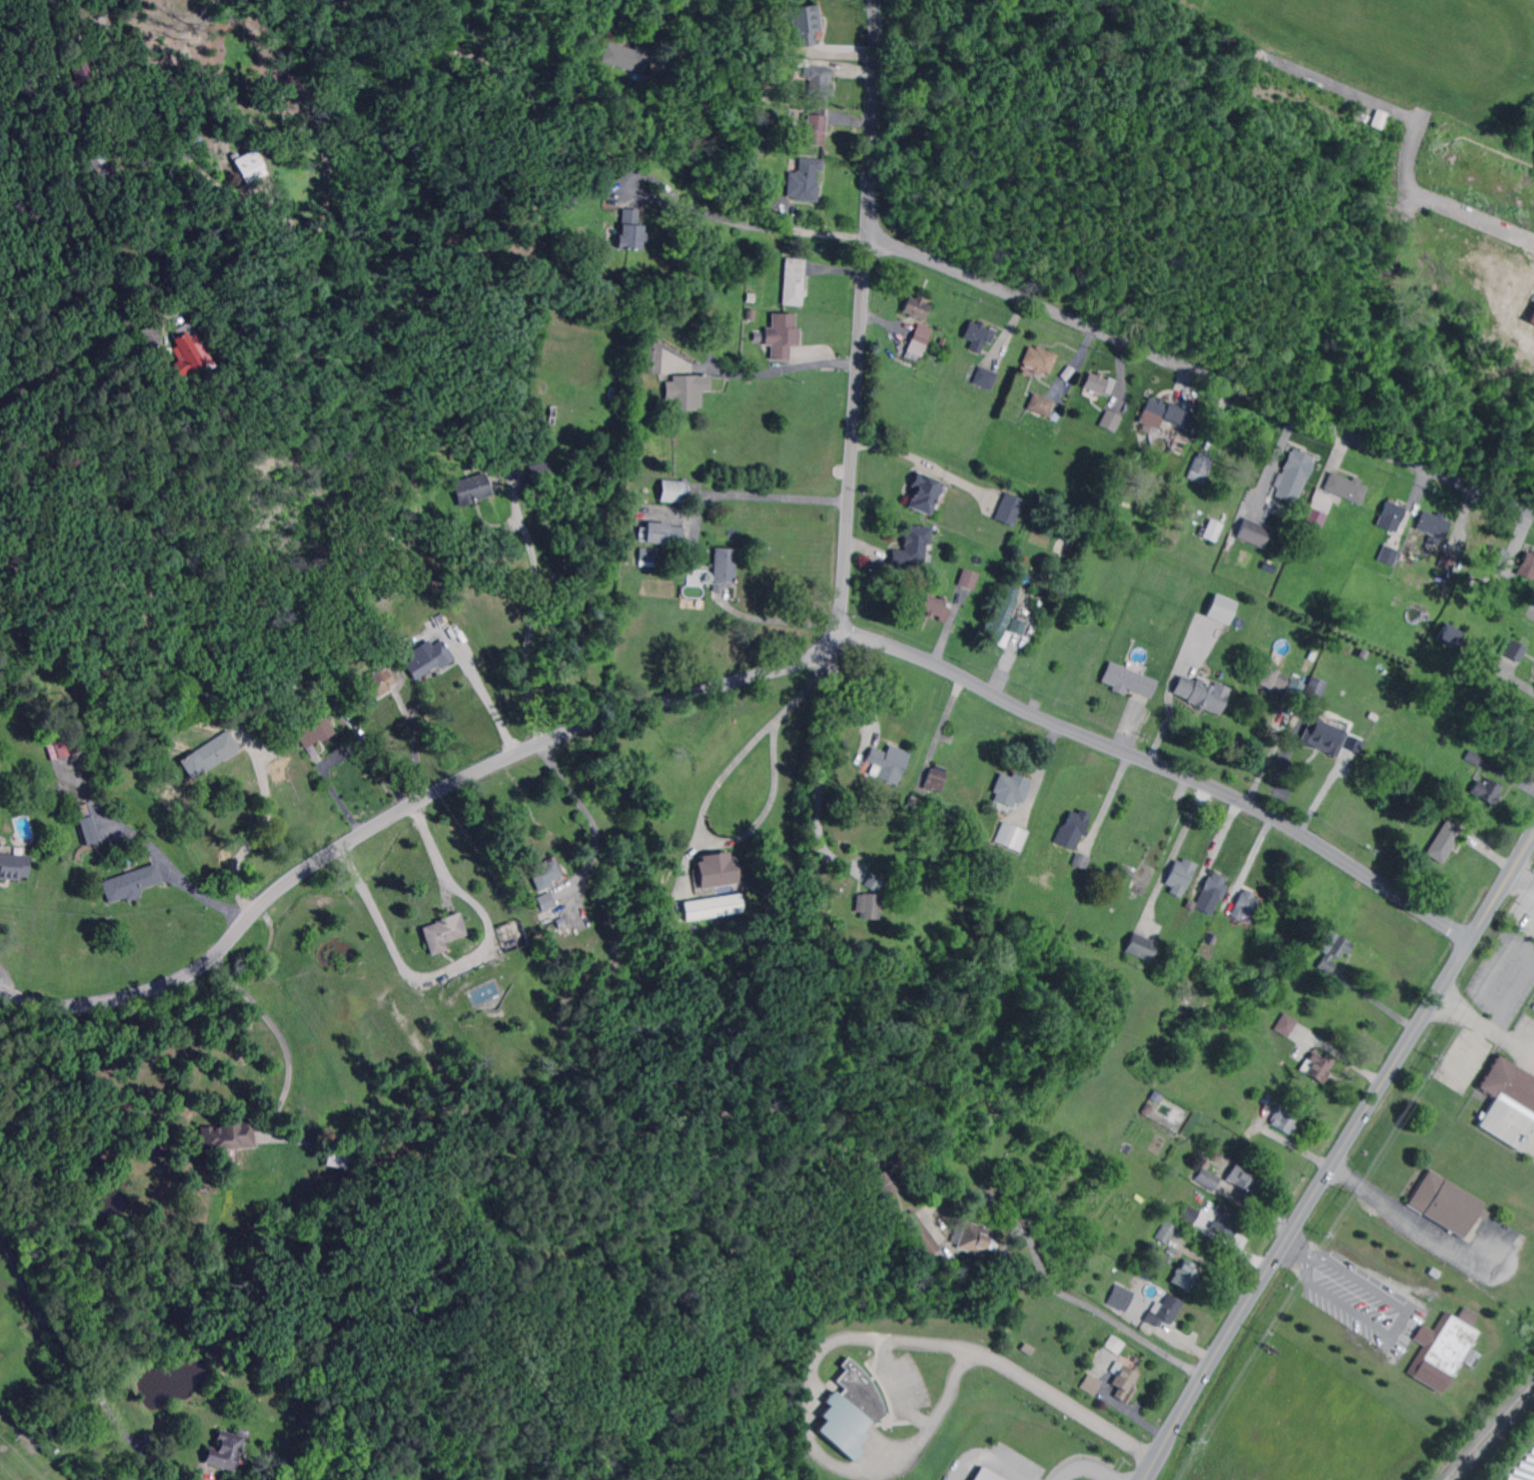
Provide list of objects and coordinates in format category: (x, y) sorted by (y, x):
building: (806, 25)
road: (686, 32)
building: (630, 57)
building: (77, 68)
building: (820, 82)
road: (1377, 103)
building: (226, 112)
building: (1377, 118)
building: (814, 125)
building: (223, 132)
building: (778, 154)
building: (765, 155)
building: (98, 167)
building: (252, 167)
building: (804, 179)
road: (221, 186)
building: (566, 199)
building: (764, 201)
road: (711, 214)
building: (562, 217)
road: (1475, 218)
building: (632, 230)
building: (795, 281)
building: (917, 307)
road: (863, 314)
building: (1531, 316)
building: (149, 335)
building: (782, 336)
building: (978, 336)
building: (921, 339)
building: (186, 353)
building: (651, 358)
building: (1041, 359)
road: (784, 368)
road: (1201, 373)
building: (985, 378)
building: (1098, 385)
building: (686, 392)
building: (1042, 405)
building: (1163, 415)
building: (1110, 422)
building: (540, 469)
building: (1200, 469)
building: (1126, 470)
building: (1293, 476)
building: (1346, 487)
building: (472, 489)
building: (674, 492)
building: (924, 494)
road: (768, 495)
building: (1183, 502)
building: (1009, 510)
building: (1314, 516)
building: (1391, 516)
building: (1434, 524)
building: (1212, 531)
building: (1251, 533)
building: (660, 534)
building: (912, 548)
building: (1387, 556)
building: (648, 557)
building: (1495, 559)
building: (1449, 561)
building: (1527, 566)
building: (724, 568)
building: (969, 578)
building: (355, 592)
building: (937, 607)
building: (1220, 609)
road: (529, 617)
building: (1001, 619)
road: (785, 620)
building: (199, 626)
building: (1018, 627)
building: (1384, 631)
building: (1452, 635)
building: (1517, 651)
building: (333, 658)
building: (429, 660)
building: (1127, 680)
building: (1271, 680)
building: (375, 685)
building: (3, 687)
road: (868, 687)
building: (1293, 688)
building: (1315, 689)
building: (1202, 695)
road: (485, 697)
road: (938, 726)
building: (312, 732)
building: (1323, 736)
building: (1352, 743)
road: (415, 745)
building: (61, 748)
road: (1272, 750)
road: (343, 751)
building: (208, 755)
building: (1474, 758)
road: (824, 761)
building: (889, 763)
road: (1165, 766)
road: (1038, 771)
building: (936, 779)
building: (1429, 779)
building: (1405, 784)
building: (1011, 789)
building: (1490, 792)
road: (1107, 797)
building: (915, 803)
road: (706, 805)
building: (81, 808)
road: (408, 809)
road: (585, 811)
building: (1078, 823)
building: (89, 830)
building: (1013, 837)
road: (251, 840)
building: (1445, 841)
road: (153, 848)
road: (1170, 852)
building: (1082, 861)
building: (13, 866)
building: (718, 871)
building: (546, 875)
building: (1180, 877)
building: (876, 882)
building: (132, 883)
building: (1215, 888)
building: (544, 902)
building: (1248, 903)
building: (1191, 904)
building: (867, 905)
building: (713, 908)
building: (550, 916)
building: (1222, 918)
building: (864, 921)
building: (561, 923)
building: (445, 932)
building: (1139, 947)
building: (1334, 950)
road: (460, 960)
building: (1235, 972)
road: (9, 977)
building: (1280, 1011)
road: (269, 1021)
building: (1287, 1025)
road: (1486, 1025)
road: (16, 1028)
building: (879, 1065)
building: (1317, 1066)
building: (1154, 1097)
building: (1508, 1102)
building: (1145, 1109)
building: (1284, 1119)
building: (227, 1137)
building: (1125, 1146)
building: (153, 1152)
building: (340, 1158)
road: (1335, 1158)
building: (1245, 1178)
building: (1206, 1179)
building: (883, 1184)
building: (1100, 1184)
building: (854, 1188)
building: (1446, 1205)
building: (1190, 1215)
building: (1227, 1221)
road: (1409, 1221)
building: (916, 1234)
building: (1166, 1234)
building: (973, 1240)
road: (1296, 1249)
building: (1434, 1275)
building: (1186, 1276)
building: (1141, 1284)
building: (1119, 1296)
road: (1090, 1304)
building: (1163, 1311)
road: (1398, 1326)
road: (56, 1338)
building: (1112, 1345)
building: (1027, 1349)
building: (1447, 1351)
road: (986, 1356)
building: (1123, 1380)
building: (1091, 1385)
road: (901, 1388)
building: (850, 1411)
road: (939, 1417)
railway: (1492, 1433)
building: (223, 1451)
road: (989, 1455)
road: (1083, 1465)
parking lot: (1522, 1467)
building: (290, 1475)
building: (982, 1475)

